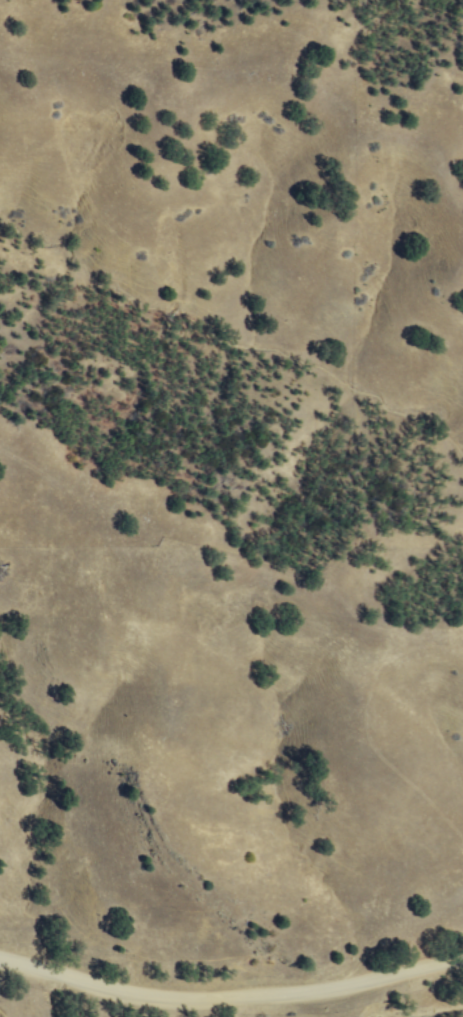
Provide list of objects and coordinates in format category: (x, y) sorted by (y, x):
road: (229, 997)

